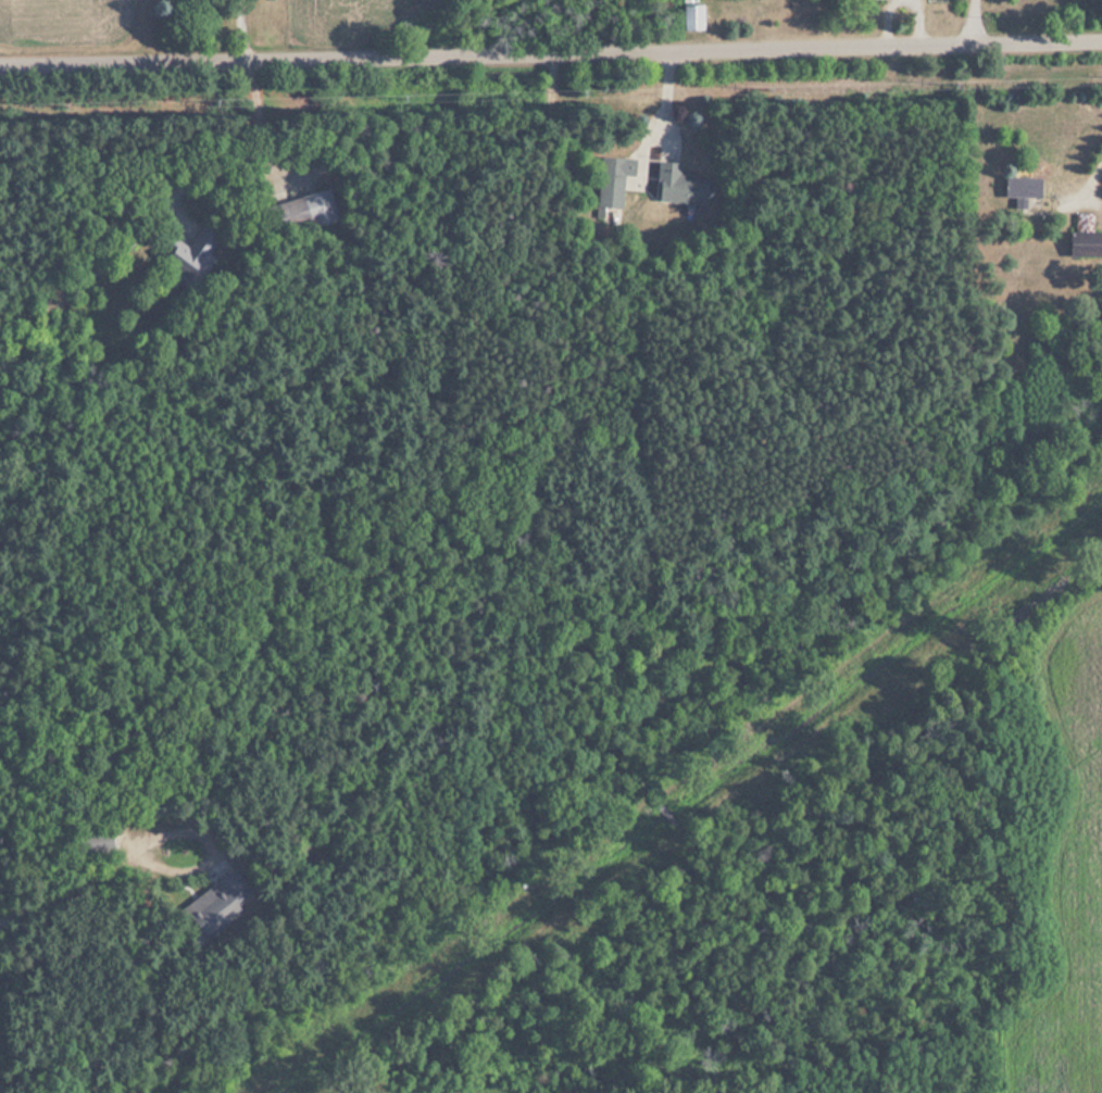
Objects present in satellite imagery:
building: (689, 18)
road: (550, 55)
road: (1092, 175)
building: (613, 179)
building: (679, 186)
building: (1019, 187)
building: (313, 211)
building: (1077, 244)
building: (229, 906)

